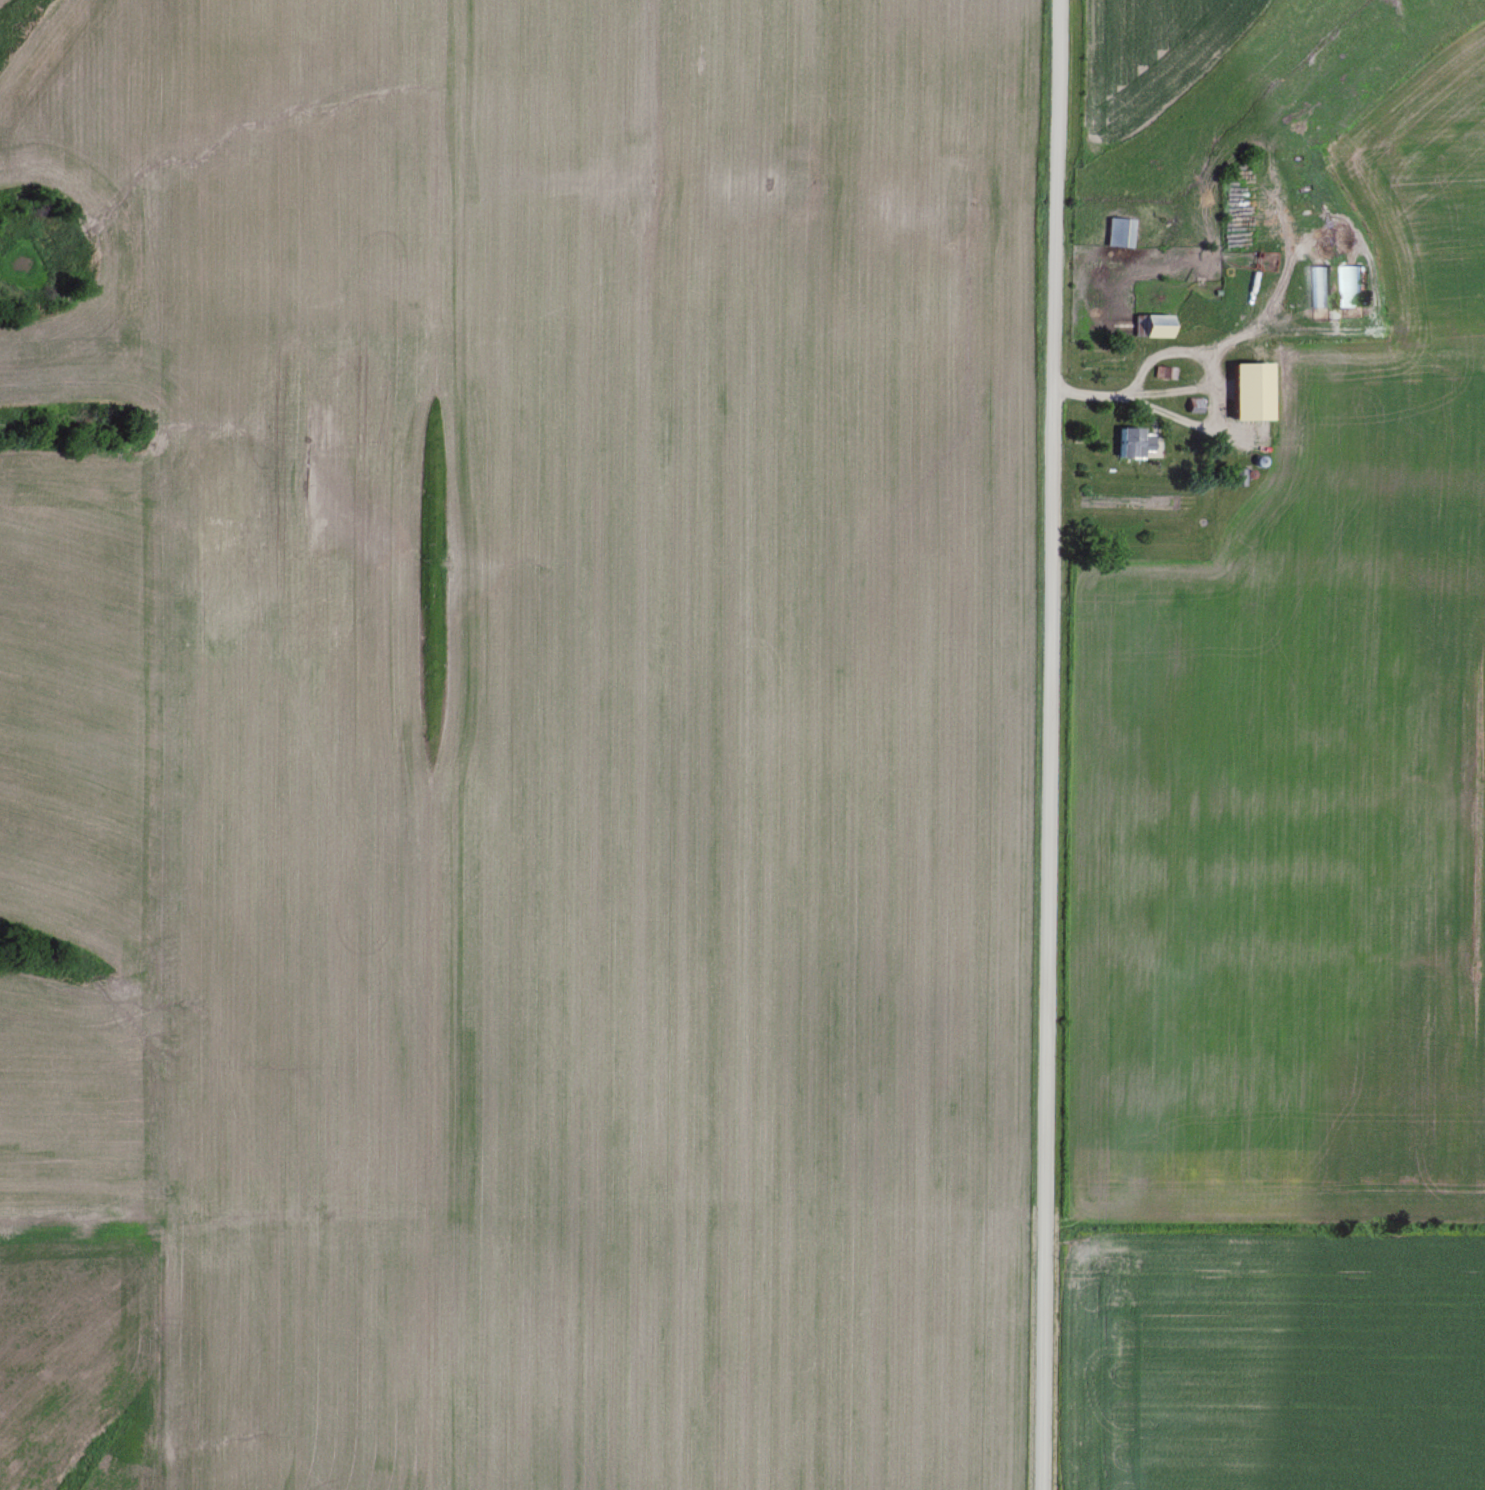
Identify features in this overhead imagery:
building: (1119, 232)
building: (1351, 285)
building: (1318, 286)
building: (1151, 325)
building: (1242, 400)
building: (1128, 442)
road: (1048, 744)

